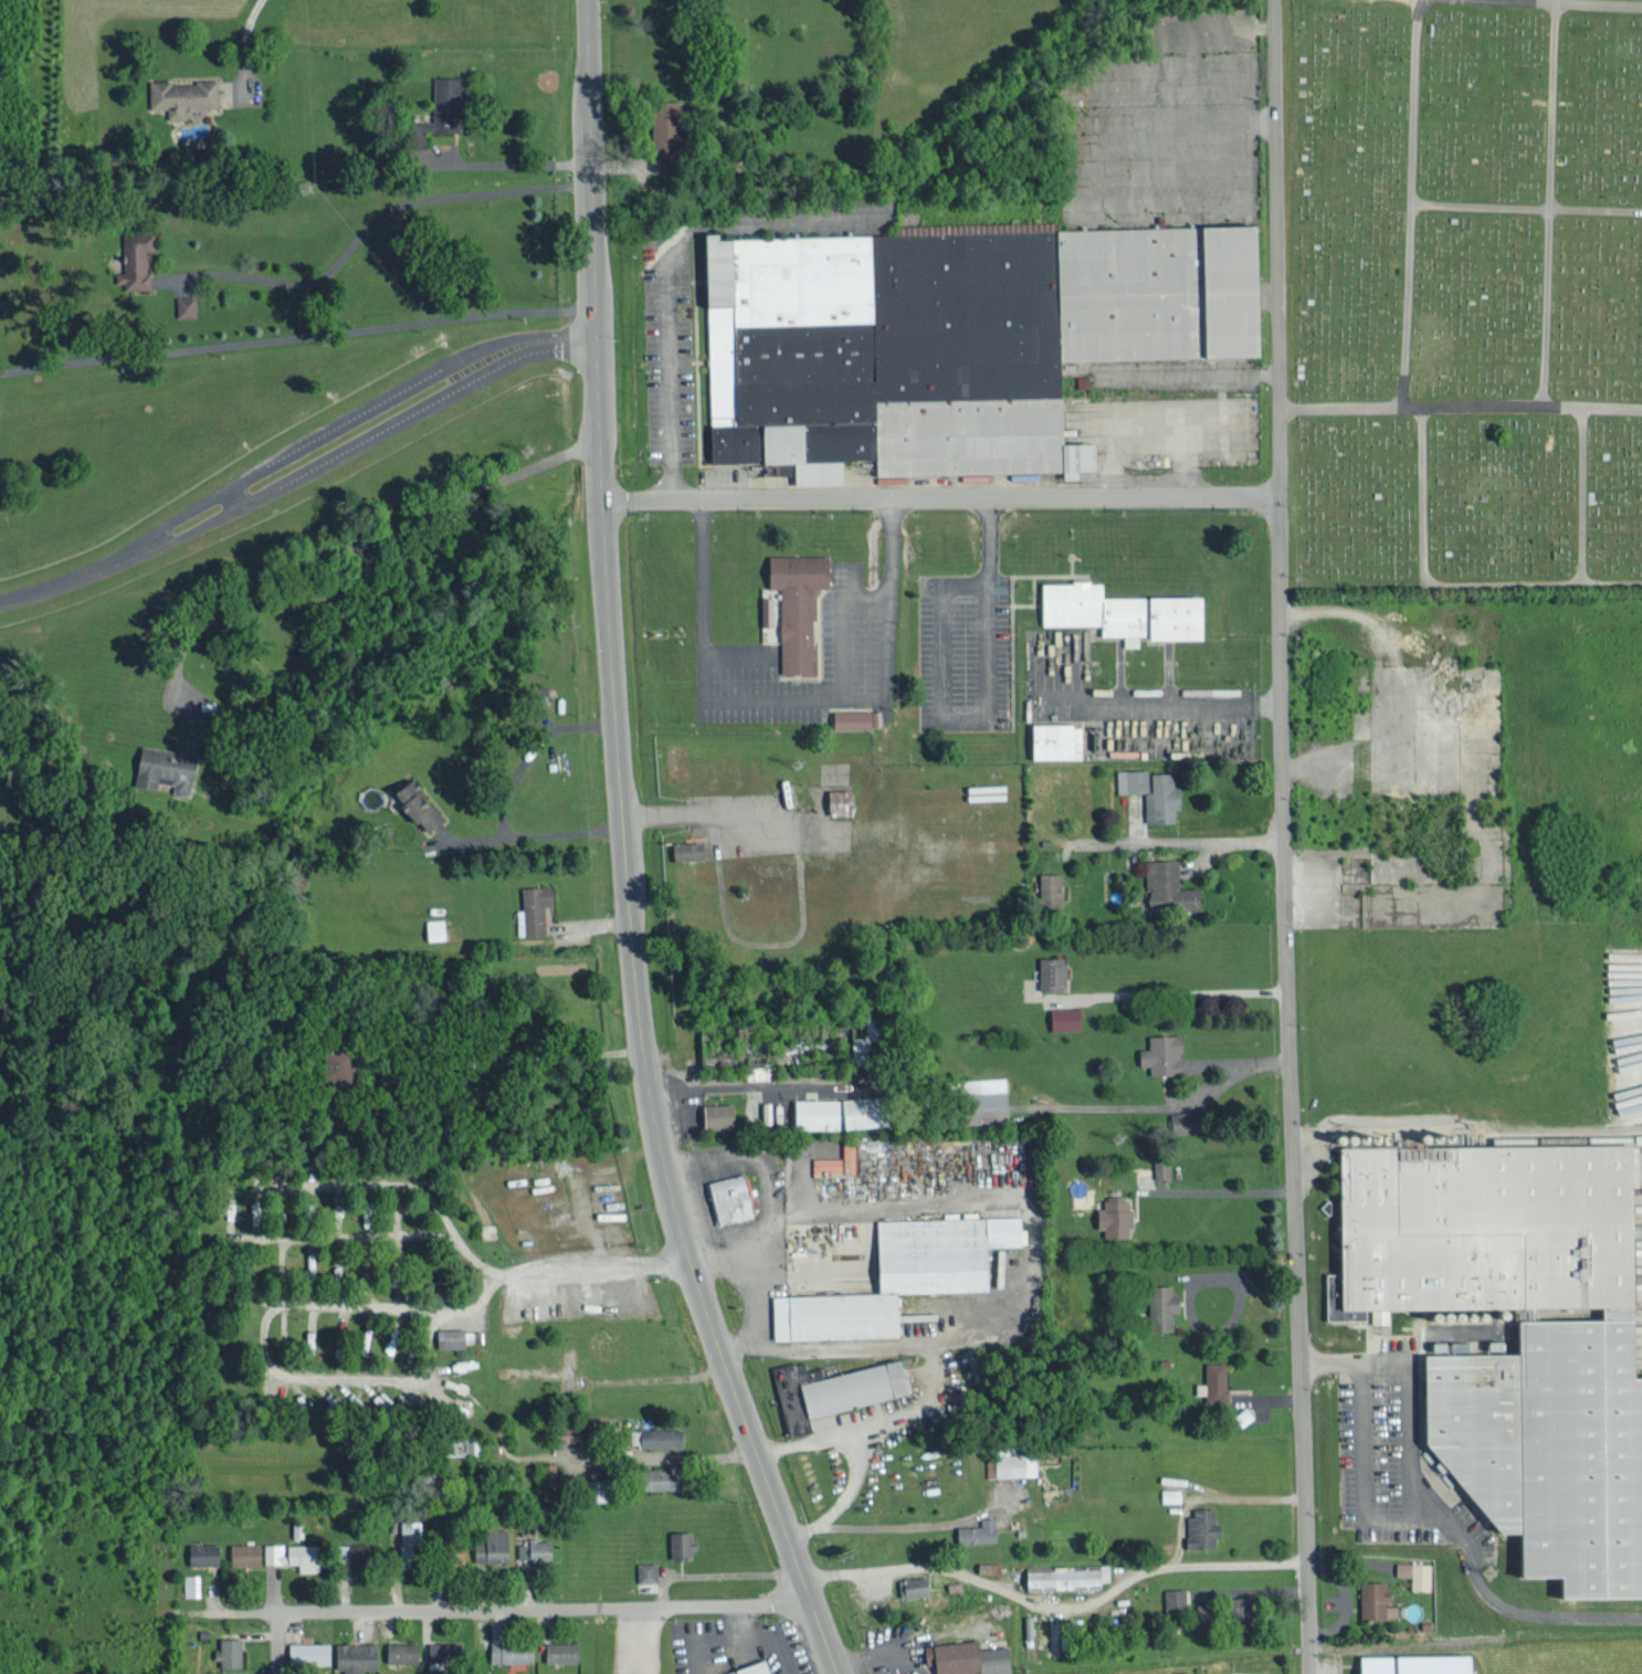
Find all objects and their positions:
road: (1567, 1)
road: (582, 7)
road: (246, 38)
building: (183, 95)
building: (448, 103)
building: (673, 135)
road: (1412, 201)
road: (1549, 202)
road: (1526, 209)
road: (382, 213)
building: (139, 260)
road: (667, 267)
park: (1465, 292)
building: (187, 305)
building: (958, 337)
road: (1460, 407)
road: (294, 465)
road: (1583, 496)
road: (938, 497)
road: (1446, 586)
building: (799, 606)
building: (767, 610)
building: (1125, 611)
building: (859, 718)
building: (1059, 740)
building: (167, 768)
building: (1154, 791)
building: (842, 801)
building: (420, 803)
road: (1287, 836)
road: (1207, 841)
building: (688, 850)
road: (620, 859)
building: (1169, 886)
building: (1051, 891)
building: (534, 908)
building: (436, 927)
building: (1053, 971)
building: (1629, 1012)
building: (1065, 1017)
building: (871, 1041)
building: (1165, 1052)
building: (337, 1062)
building: (1631, 1089)
building: (989, 1097)
building: (768, 1110)
building: (844, 1110)
building: (718, 1114)
building: (1190, 1119)
road: (1368, 1126)
building: (1162, 1167)
building: (601, 1168)
building: (606, 1185)
building: (731, 1197)
building: (611, 1203)
building: (229, 1211)
building: (366, 1214)
building: (1115, 1215)
building: (256, 1217)
building: (266, 1218)
road: (1031, 1226)
building: (338, 1267)
road: (811, 1274)
building: (904, 1274)
road: (759, 1292)
building: (1162, 1305)
building: (1519, 1330)
building: (452, 1336)
building: (392, 1338)
building: (1464, 1345)
building: (1215, 1381)
building: (859, 1386)
building: (381, 1401)
building: (821, 1420)
building: (663, 1436)
road: (851, 1439)
building: (466, 1444)
building: (1012, 1462)
building: (667, 1476)
building: (1172, 1494)
road: (842, 1526)
building: (1203, 1526)
road: (1420, 1529)
building: (979, 1530)
building: (411, 1537)
building: (683, 1543)
building: (494, 1545)
building: (537, 1548)
building: (203, 1552)
building: (245, 1552)
building: (364, 1552)
building: (295, 1554)
building: (989, 1566)
building: (648, 1570)
building: (1415, 1572)
building: (1070, 1575)
building: (191, 1583)
building: (914, 1584)
building: (1176, 1599)
building: (1377, 1599)
building: (880, 1604)
road: (530, 1608)
building: (1245, 1608)
building: (1208, 1610)
building: (1028, 1629)
building: (1040, 1631)
building: (498, 1632)
building: (1052, 1638)
road: (646, 1639)
road: (277, 1643)
building: (444, 1650)
building: (230, 1651)
building: (403, 1651)
building: (513, 1651)
building: (564, 1651)
building: (310, 1652)
building: (356, 1655)
building: (969, 1656)
building: (1420, 1663)
building: (754, 1667)

